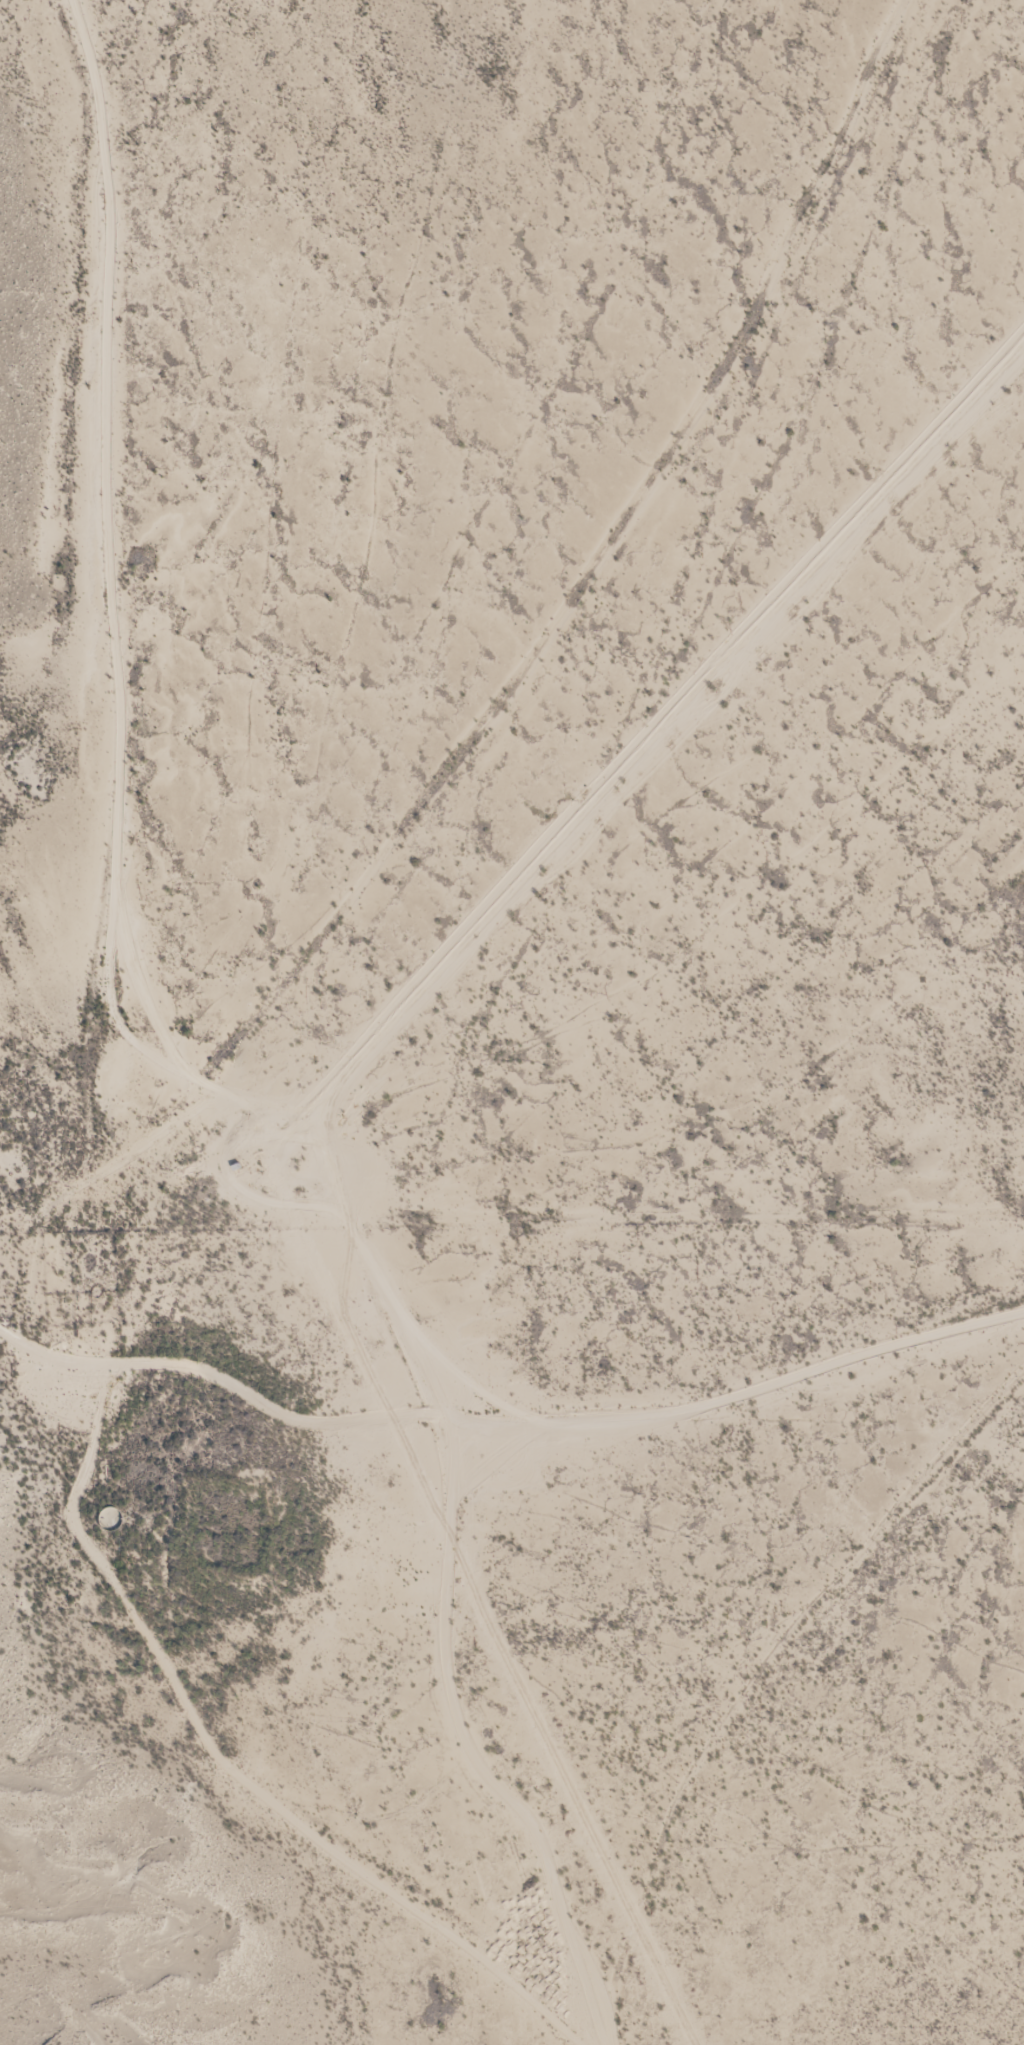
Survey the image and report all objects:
road: (91, 611)
road: (465, 674)
road: (35, 1336)
road: (543, 1436)
road: (205, 1773)

